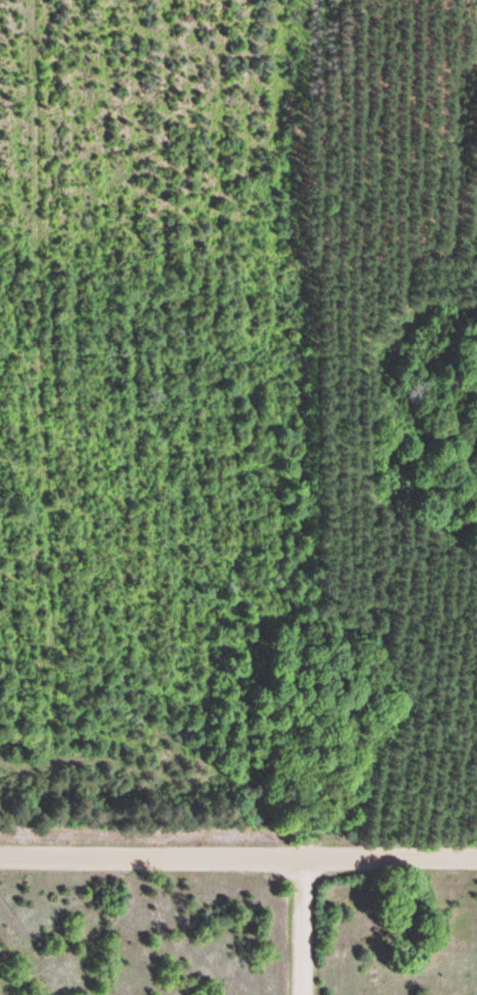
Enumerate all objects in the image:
road: (238, 859)
road: (305, 927)

